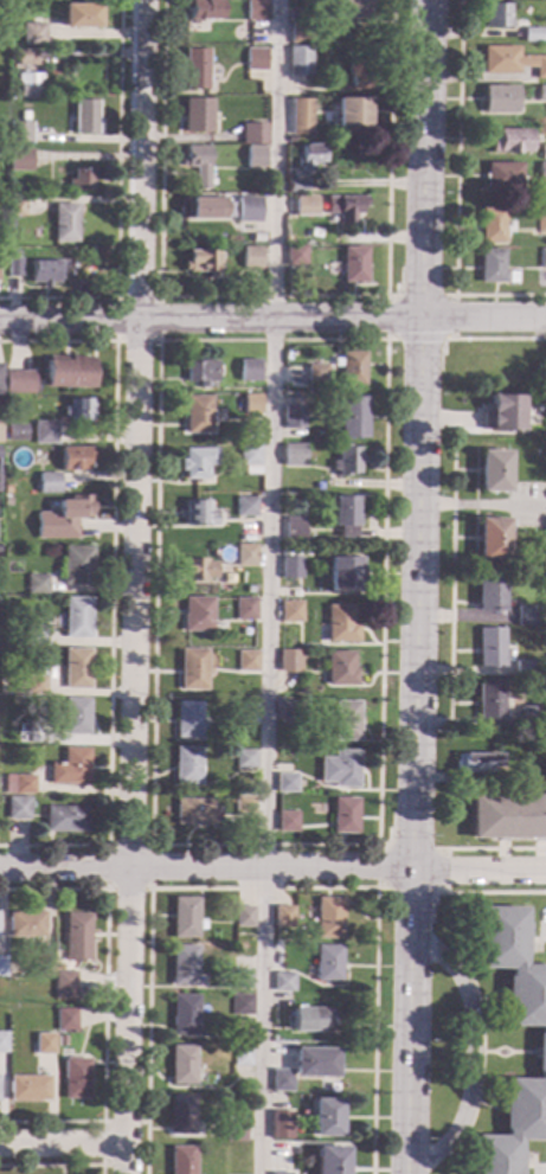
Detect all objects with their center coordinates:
building: (203, 8)
building: (354, 8)
building: (257, 9)
building: (81, 17)
building: (496, 17)
building: (0, 19)
building: (34, 32)
building: (301, 34)
building: (532, 36)
building: (322, 50)
building: (27, 57)
building: (257, 60)
building: (300, 62)
building: (316, 62)
building: (510, 62)
building: (195, 69)
building: (354, 77)
building: (28, 85)
building: (541, 94)
building: (500, 100)
building: (352, 113)
building: (198, 115)
building: (300, 116)
building: (85, 117)
building: (20, 131)
building: (253, 134)
building: (510, 141)
building: (544, 153)
building: (256, 156)
building: (307, 158)
building: (20, 160)
building: (198, 165)
building: (542, 172)
building: (502, 177)
building: (81, 180)
building: (297, 186)
road: (456, 192)
road: (117, 206)
building: (306, 206)
building: (15, 207)
building: (205, 209)
building: (345, 209)
building: (249, 210)
building: (541, 220)
building: (9, 222)
building: (65, 224)
building: (490, 225)
building: (296, 256)
building: (251, 258)
building: (542, 259)
building: (203, 263)
building: (352, 265)
building: (14, 267)
building: (494, 268)
building: (44, 272)
road: (420, 295)
road: (271, 296)
road: (272, 319)
road: (419, 338)
road: (500, 339)
road: (115, 341)
building: (351, 368)
building: (249, 371)
building: (69, 372)
building: (201, 372)
building: (316, 373)
building: (0, 380)
building: (18, 383)
building: (252, 404)
building: (78, 410)
building: (502, 412)
building: (198, 415)
building: (294, 417)
building: (349, 419)
building: (0, 423)
building: (45, 431)
building: (15, 432)
building: (250, 455)
building: (294, 455)
building: (76, 458)
building: (346, 461)
building: (198, 462)
building: (494, 471)
building: (257, 473)
building: (49, 483)
building: (7, 502)
building: (245, 507)
building: (198, 514)
building: (343, 515)
building: (63, 518)
building: (294, 530)
building: (492, 539)
building: (246, 556)
building: (77, 566)
building: (291, 569)
building: (198, 570)
building: (343, 573)
road: (451, 579)
building: (37, 584)
road: (134, 586)
road: (269, 586)
road: (413, 586)
road: (110, 589)
building: (489, 595)
building: (245, 609)
building: (290, 612)
building: (197, 615)
building: (526, 616)
building: (77, 617)
building: (338, 626)
building: (36, 635)
building: (489, 648)
building: (246, 661)
building: (290, 661)
building: (76, 669)
building: (192, 669)
building: (340, 669)
building: (523, 669)
building: (31, 685)
building: (489, 700)
building: (290, 711)
building: (246, 714)
building: (76, 716)
building: (528, 716)
building: (187, 720)
building: (346, 721)
road: (474, 723)
building: (26, 737)
building: (245, 759)
building: (475, 764)
building: (187, 765)
building: (70, 768)
building: (340, 769)
building: (287, 783)
building: (18, 784)
building: (244, 804)
building: (18, 808)
building: (197, 813)
building: (345, 815)
building: (508, 816)
building: (65, 820)
building: (288, 822)
road: (378, 842)
road: (493, 848)
road: (272, 870)
road: (378, 885)
road: (264, 887)
road: (107, 888)
road: (475, 892)
building: (244, 917)
building: (284, 917)
building: (186, 918)
building: (329, 918)
building: (26, 924)
road: (544, 931)
building: (77, 932)
building: (184, 964)
building: (329, 964)
building: (43, 965)
building: (2, 967)
building: (242, 980)
building: (65, 981)
building: (283, 982)
road: (490, 996)
road: (104, 1003)
building: (242, 1005)
building: (184, 1015)
building: (311, 1019)
building: (65, 1020)
building: (2, 1043)
building: (540, 1043)
building: (43, 1044)
road: (481, 1050)
road: (487, 1051)
road: (508, 1051)
road: (471, 1052)
road: (522, 1052)
building: (242, 1056)
building: (315, 1063)
building: (182, 1065)
building: (75, 1078)
building: (282, 1080)
building: (28, 1089)
road: (488, 1105)
building: (181, 1115)
building: (327, 1118)
road: (102, 1122)
building: (280, 1125)
building: (236, 1131)
road: (60, 1147)
building: (181, 1160)
building: (332, 1161)
road: (54, 1166)
building: (278, 1173)

